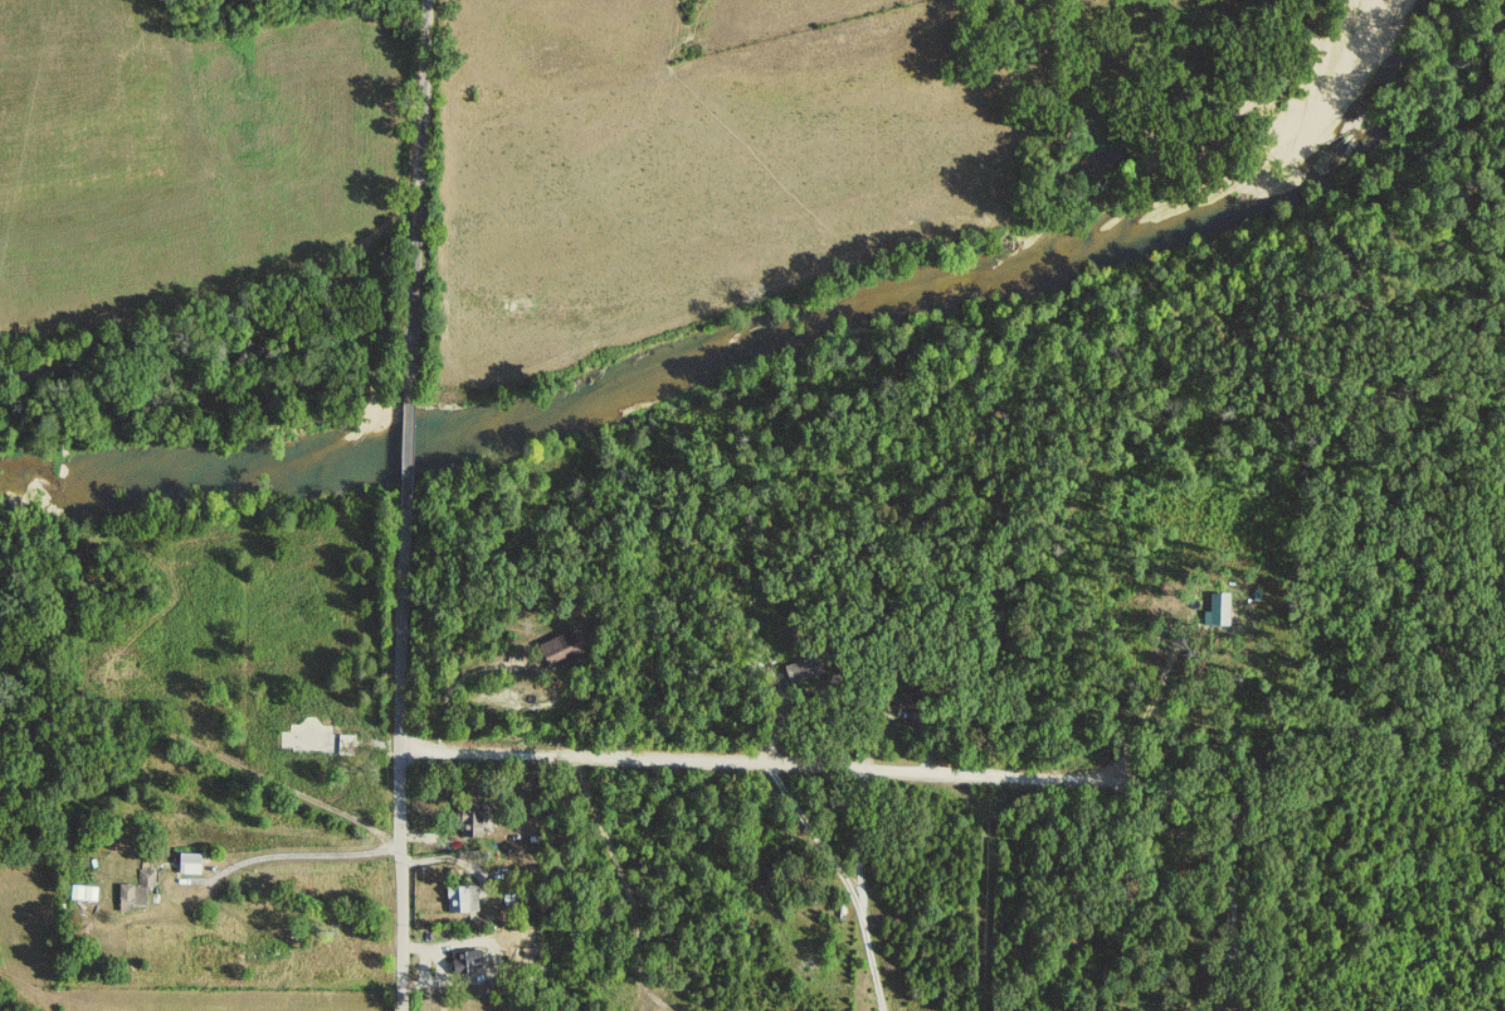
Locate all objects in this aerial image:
road: (417, 194)
river: (764, 341)
road: (409, 447)
building: (1217, 611)
building: (559, 650)
building: (801, 672)
road: (453, 685)
road: (215, 757)
road: (397, 758)
road: (842, 767)
building: (469, 825)
road: (1225, 847)
road: (301, 850)
building: (187, 864)
road: (623, 867)
building: (125, 899)
building: (461, 900)
road: (905, 915)
road: (986, 954)
building: (465, 964)
road: (874, 965)
road: (649, 989)
park: (476, 1003)

